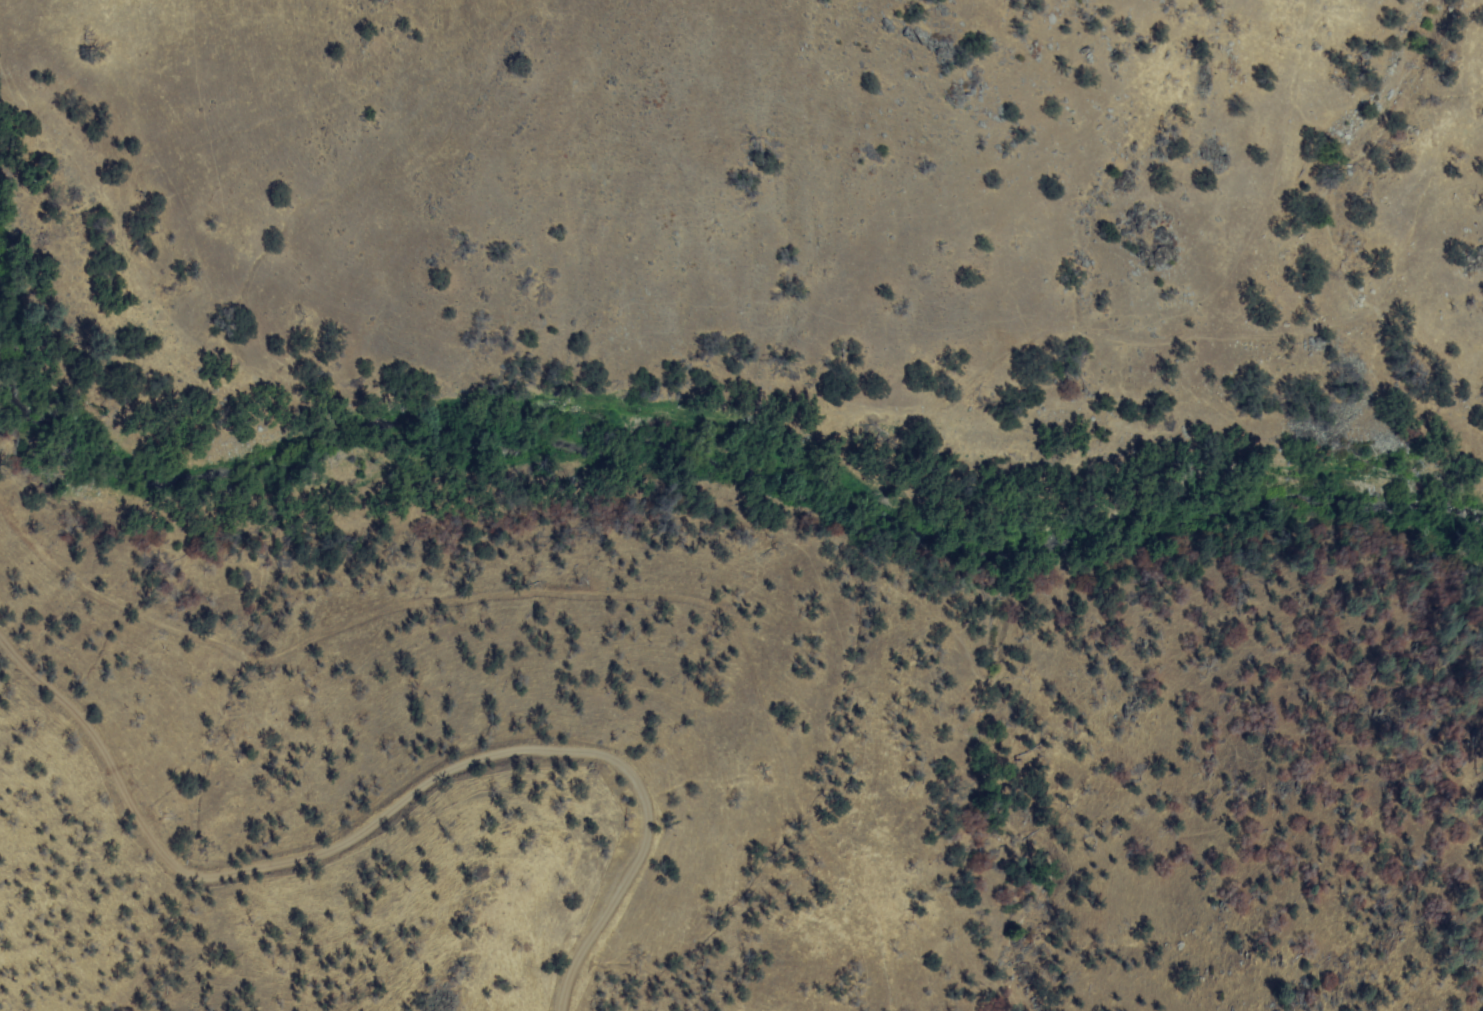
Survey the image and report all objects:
road: (384, 801)

